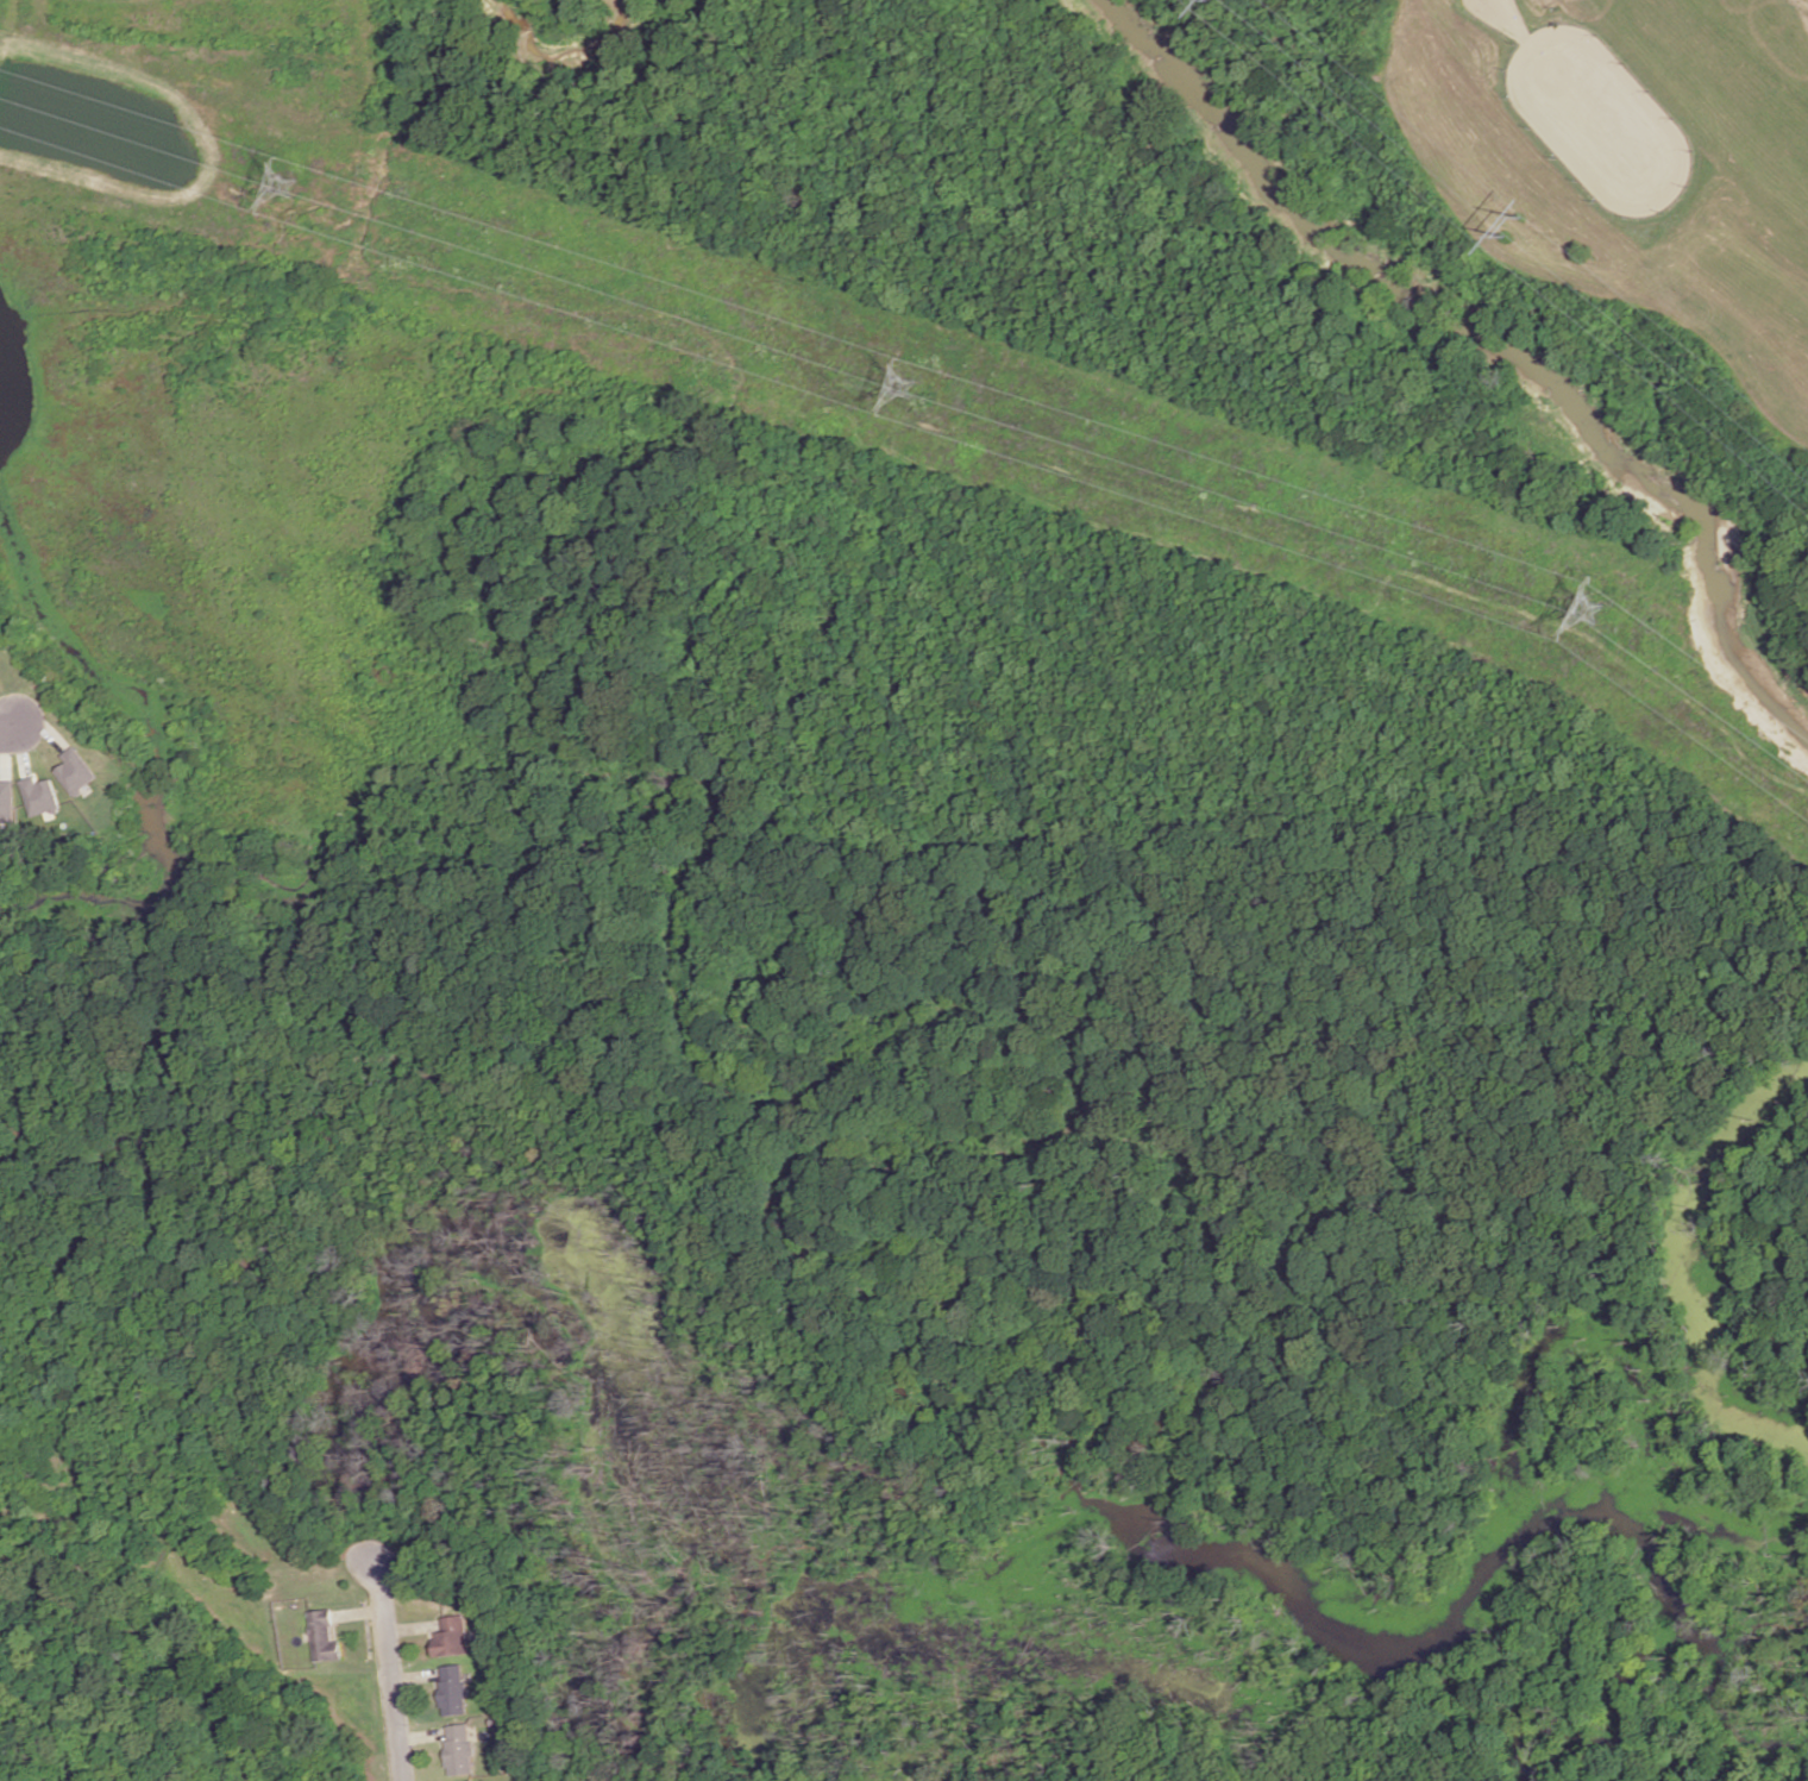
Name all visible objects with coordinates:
power tower: (288, 188)
power tower: (1511, 226)
power tower: (909, 388)
power tower: (1600, 610)
road: (4, 740)
building: (75, 770)
building: (39, 795)
building: (6, 799)
building: (322, 1635)
building: (450, 1636)
road: (391, 1675)
building: (452, 1688)
building: (459, 1748)
building: (470, 1780)

